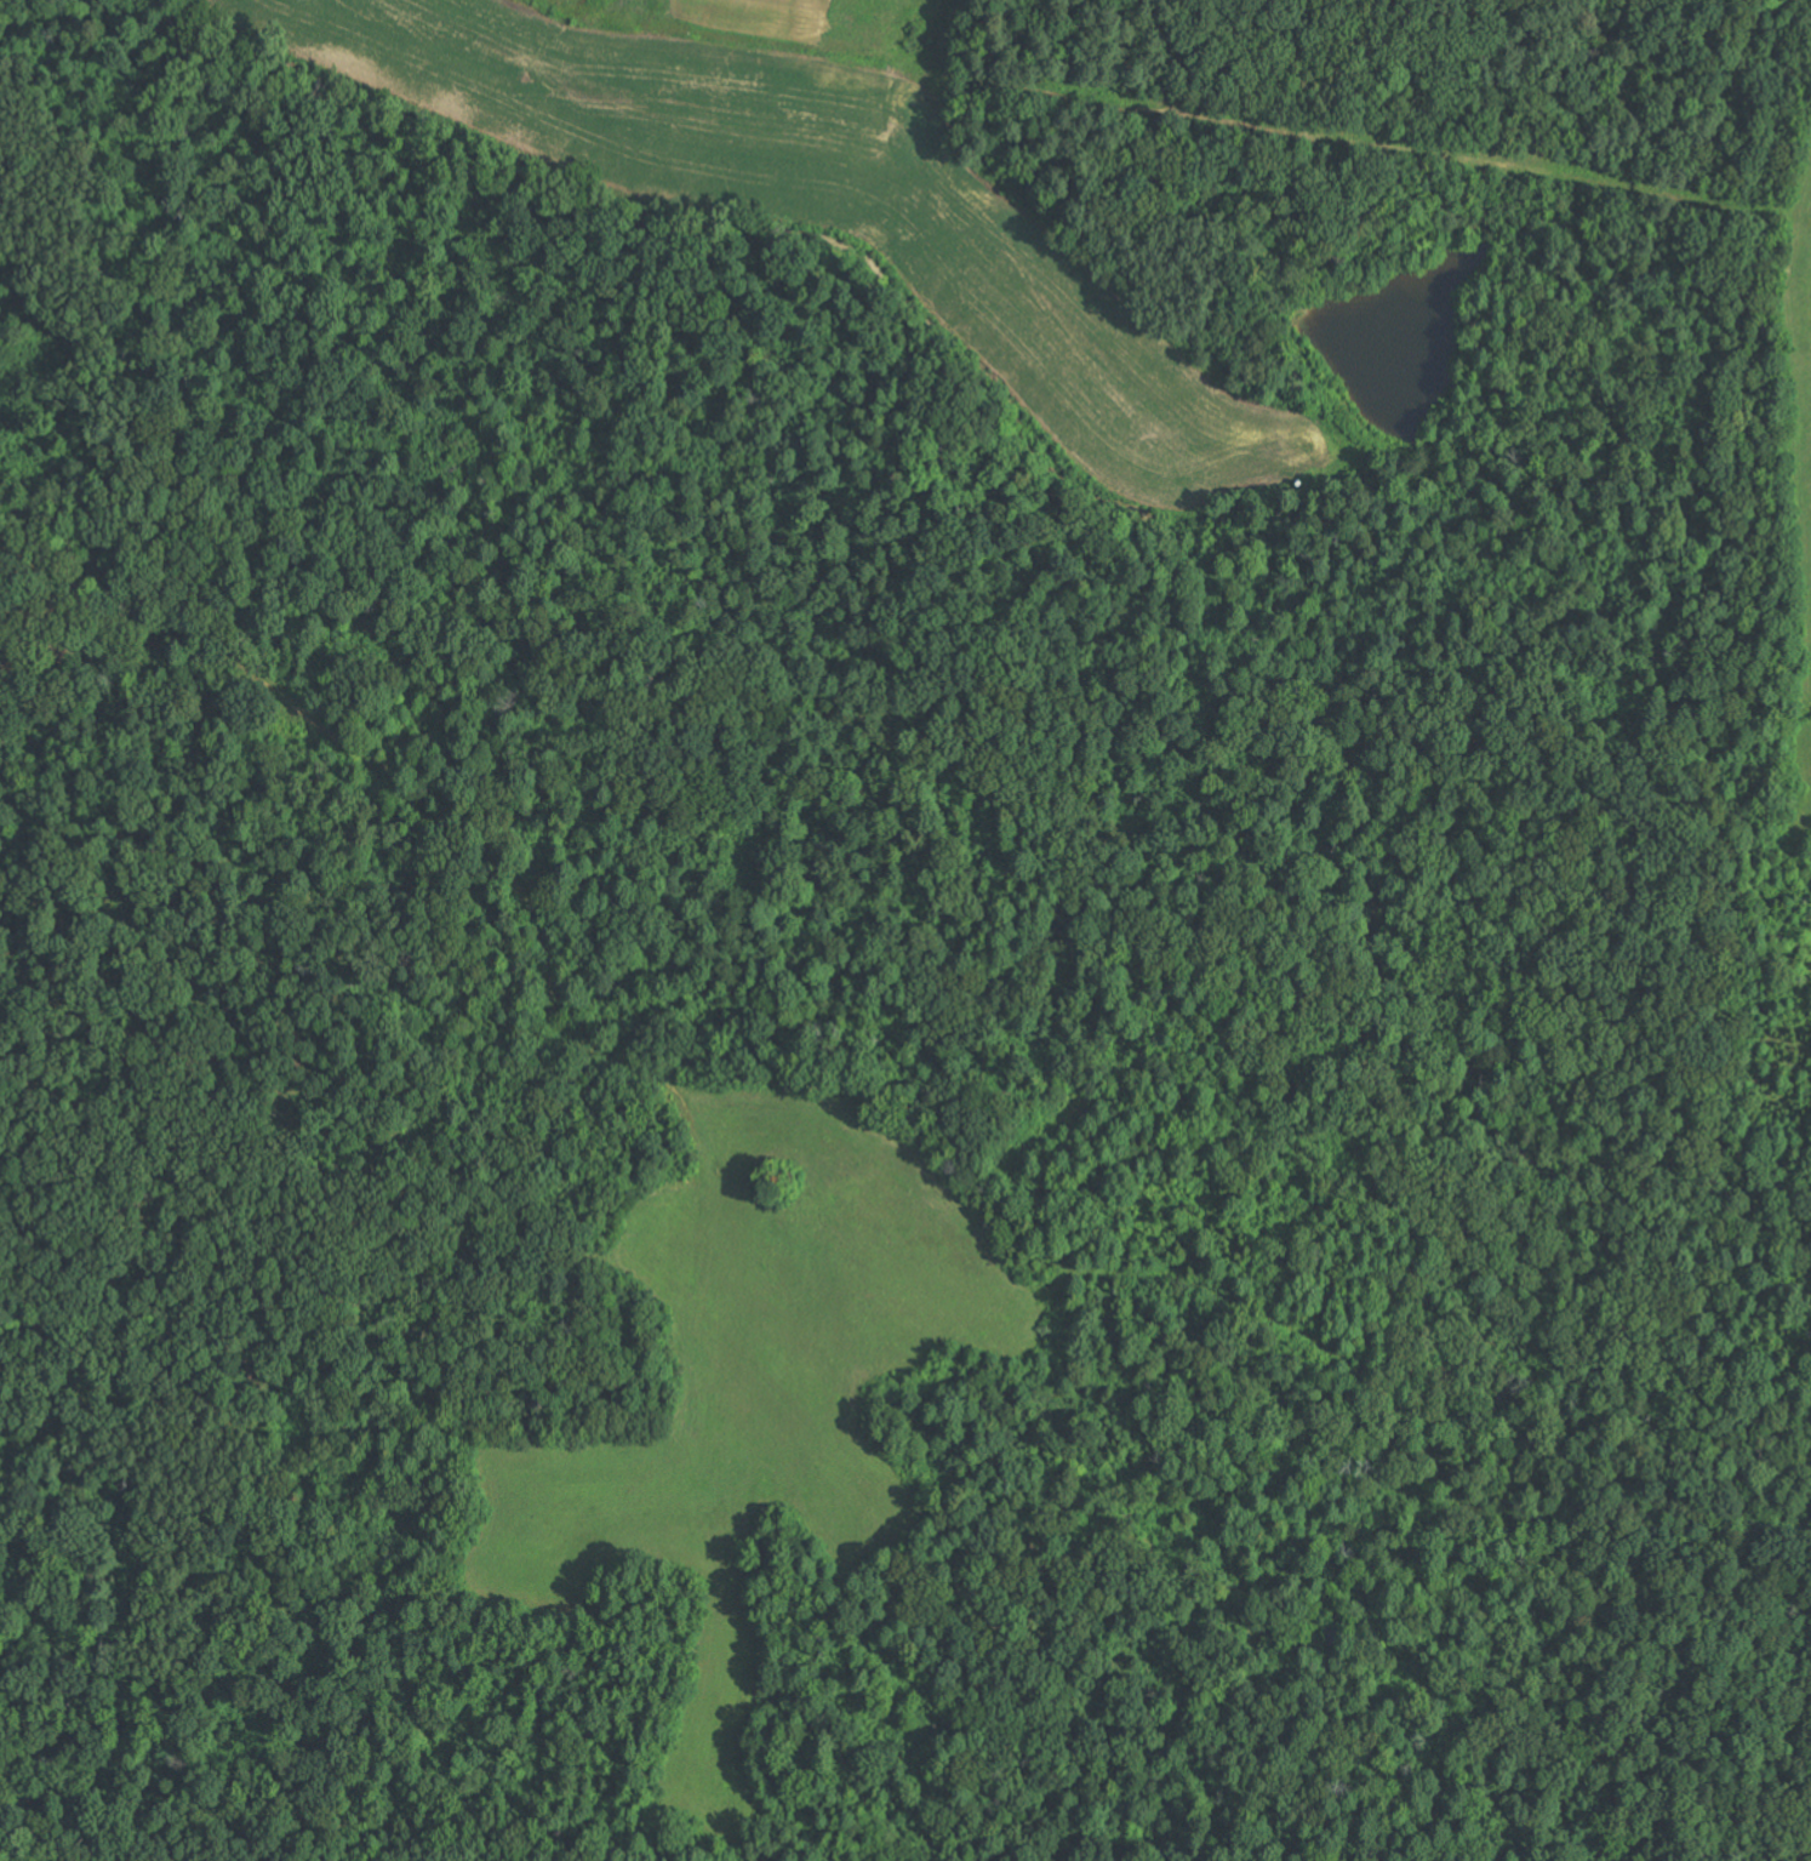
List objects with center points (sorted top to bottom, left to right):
road: (55, 588)
park: (38, 633)

